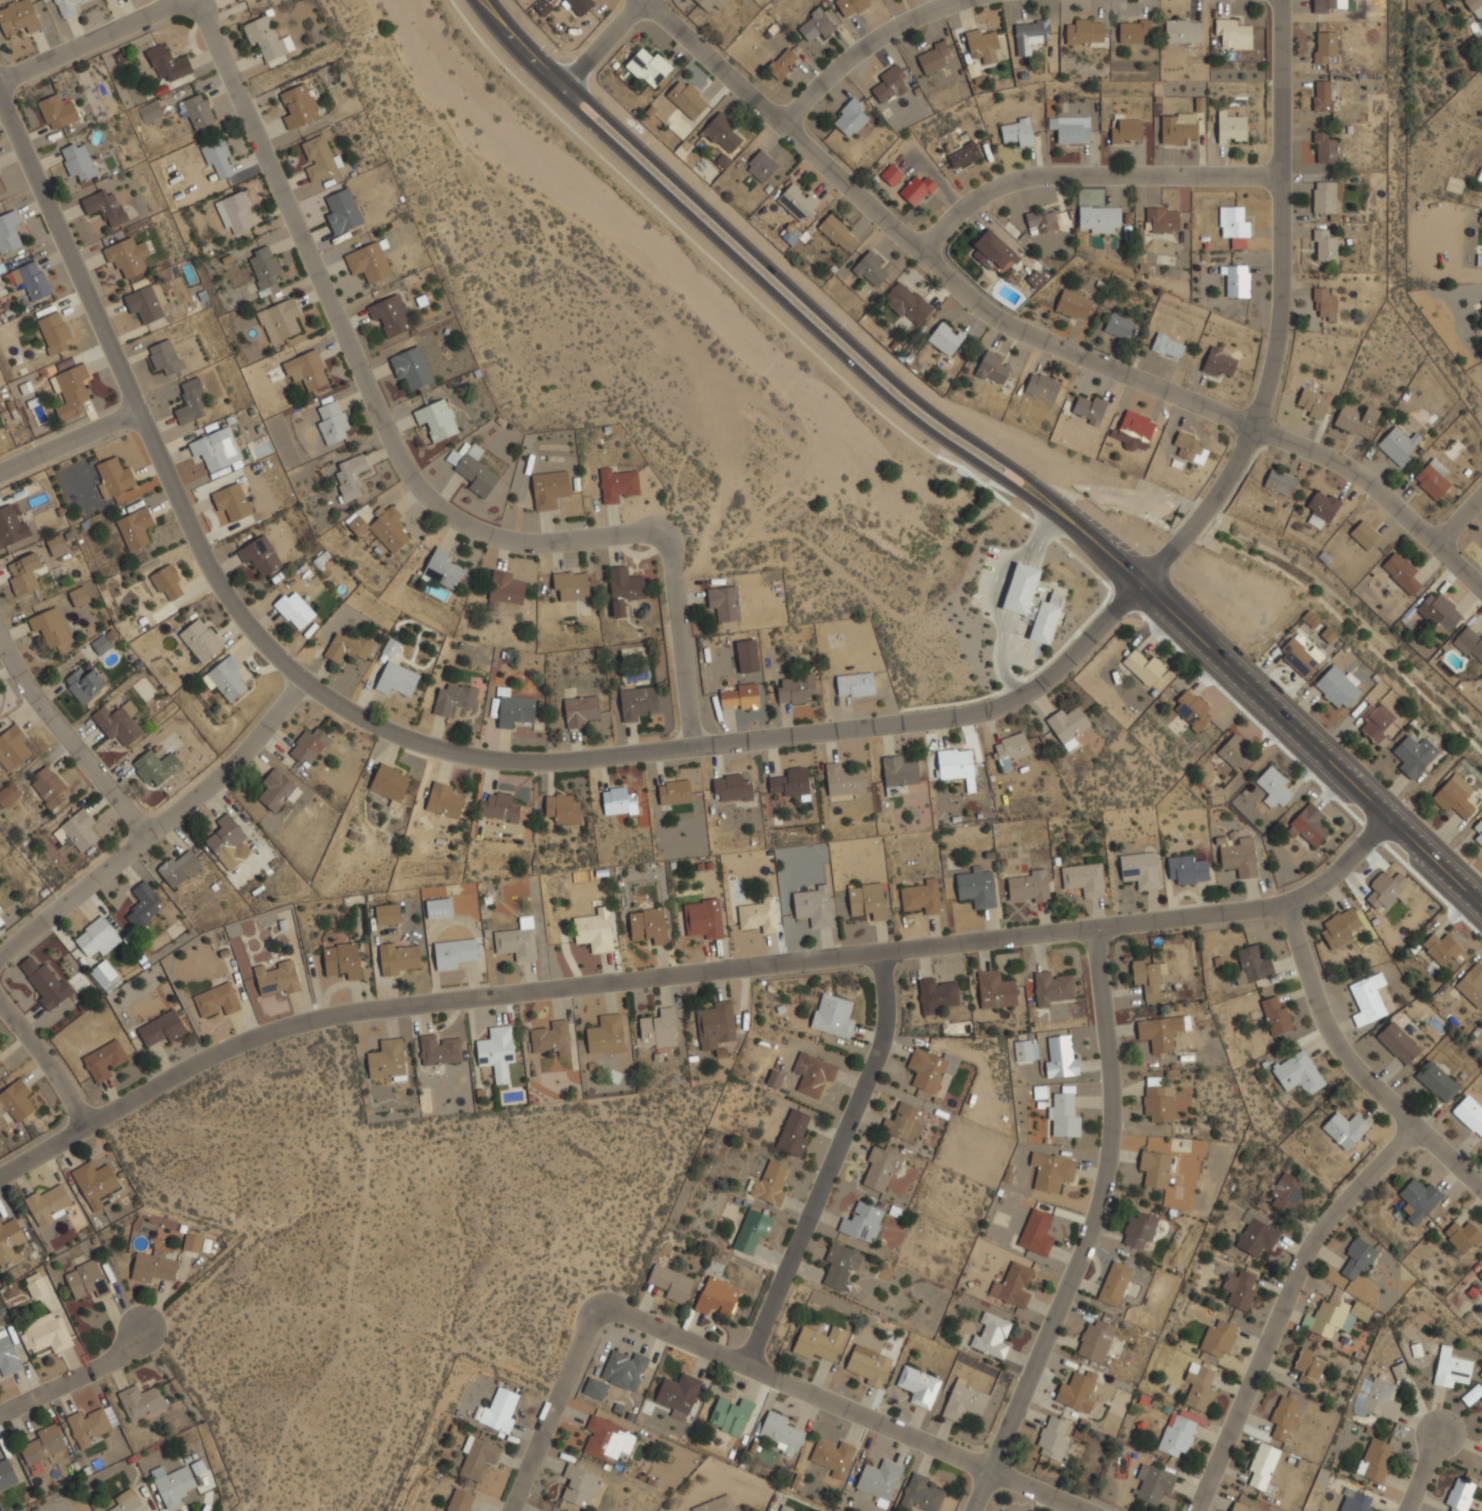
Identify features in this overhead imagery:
building: (237, 0)
building: (710, 4)
building: (577, 5)
building: (850, 6)
building: (1325, 6)
building: (68, 7)
building: (543, 7)
building: (1474, 7)
building: (18, 18)
building: (815, 24)
building: (1084, 31)
building: (1133, 31)
building: (1183, 31)
building: (1232, 33)
building: (1030, 34)
building: (266, 39)
road: (865, 45)
building: (982, 45)
building: (1324, 45)
road: (599, 47)
building: (931, 57)
building: (781, 63)
building: (167, 64)
building: (648, 67)
building: (890, 84)
building: (1322, 95)
building: (686, 99)
building: (298, 106)
building: (149, 110)
building: (195, 110)
building: (57, 111)
building: (850, 117)
building: (1176, 127)
building: (1070, 128)
building: (1231, 129)
building: (1017, 131)
building: (1127, 131)
building: (721, 133)
building: (1324, 148)
building: (963, 156)
building: (319, 158)
building: (218, 159)
building: (77, 161)
building: (761, 166)
building: (891, 175)
building: (1477, 175)
road: (1088, 176)
building: (1, 188)
building: (916, 190)
building: (1324, 197)
building: (796, 202)
building: (103, 205)
building: (235, 211)
building: (342, 212)
building: (1099, 219)
building: (1161, 219)
building: (1041, 220)
building: (1233, 221)
building: (8, 231)
building: (837, 233)
building: (1324, 246)
building: (993, 252)
building: (126, 256)
building: (1479, 261)
building: (368, 262)
building: (263, 268)
building: (870, 269)
building: (31, 279)
road: (781, 279)
building: (1034, 279)
building: (1236, 281)
road: (764, 286)
building: (1481, 301)
building: (145, 302)
building: (1481, 302)
building: (906, 303)
building: (1072, 304)
building: (1324, 304)
road: (1280, 312)
building: (391, 315)
building: (278, 319)
building: (1118, 325)
building: (53, 332)
road: (1034, 337)
building: (945, 339)
building: (1167, 347)
building: (164, 356)
building: (1219, 362)
road: (359, 366)
building: (411, 368)
building: (991, 368)
building: (306, 370)
building: (1042, 387)
building: (70, 391)
building: (190, 401)
building: (1312, 401)
building: (1090, 409)
building: (436, 420)
building: (1356, 420)
building: (331, 421)
building: (1134, 430)
road: (68, 440)
building: (1399, 445)
building: (1189, 448)
building: (216, 449)
building: (472, 469)
building: (350, 475)
building: (113, 476)
building: (1432, 479)
building: (1279, 482)
building: (617, 485)
building: (549, 489)
building: (230, 501)
building: (1321, 509)
road: (1458, 517)
building: (11, 526)
building: (135, 528)
building: (382, 528)
building: (1364, 535)
building: (55, 545)
building: (259, 554)
road: (1114, 560)
building: (442, 568)
building: (23, 573)
building: (1401, 573)
building: (168, 583)
building: (570, 585)
building: (623, 588)
building: (503, 589)
building: (78, 596)
building: (1030, 602)
building: (724, 603)
building: (293, 609)
building: (1438, 612)
building: (49, 626)
building: (200, 639)
building: (104, 641)
building: (1469, 643)
building: (347, 646)
building: (390, 647)
building: (1301, 654)
building: (747, 656)
building: (1143, 667)
building: (226, 677)
building: (396, 680)
building: (84, 684)
building: (855, 685)
building: (1336, 687)
building: (795, 688)
building: (741, 697)
building: (453, 699)
building: (636, 702)
building: (512, 708)
building: (579, 710)
building: (1191, 710)
building: (1376, 722)
building: (117, 723)
building: (1067, 726)
road: (408, 738)
road: (68, 739)
building: (12, 745)
building: (309, 746)
road: (1310, 746)
building: (1011, 750)
building: (1235, 753)
building: (1414, 756)
building: (155, 765)
building: (956, 766)
building: (898, 774)
building: (843, 780)
building: (790, 782)
building: (389, 785)
building: (1273, 787)
building: (48, 788)
building: (733, 788)
building: (278, 790)
building: (674, 792)
building: (8, 794)
building: (1454, 796)
building: (443, 801)
building: (618, 801)
building: (498, 807)
building: (562, 809)
road: (159, 824)
building: (1308, 826)
building: (77, 830)
building: (1478, 832)
building: (227, 842)
building: (1239, 858)
building: (179, 869)
building: (1140, 870)
building: (1187, 870)
building: (1083, 879)
building: (1029, 887)
building: (976, 888)
building: (1385, 890)
building: (921, 897)
building: (867, 901)
building: (143, 905)
building: (813, 906)
building: (0, 908)
building: (439, 908)
building: (386, 914)
building: (759, 916)
building: (703, 919)
building: (0, 922)
building: (648, 926)
building: (1339, 927)
building: (594, 931)
building: (96, 938)
building: (517, 941)
building: (235, 946)
building: (1441, 948)
building: (454, 953)
building: (398, 959)
building: (342, 960)
building: (1252, 965)
road: (690, 973)
building: (105, 976)
building: (277, 978)
building: (1150, 980)
building: (45, 983)
building: (1472, 985)
building: (1052, 988)
building: (995, 990)
building: (936, 995)
building: (1367, 998)
building: (216, 1001)
building: (833, 1015)
building: (1275, 1016)
building: (714, 1024)
building: (161, 1028)
building: (658, 1029)
building: (1161, 1032)
building: (605, 1035)
building: (551, 1038)
building: (1398, 1043)
building: (439, 1050)
building: (1025, 1051)
building: (496, 1052)
building: (1060, 1058)
building: (1, 1060)
road: (47, 1060)
building: (104, 1060)
building: (387, 1060)
road: (1355, 1066)
building: (926, 1070)
building: (1298, 1073)
building: (813, 1074)
building: (774, 1079)
building: (1436, 1082)
building: (1039, 1092)
building: (15, 1100)
building: (1157, 1100)
building: (1064, 1114)
building: (1469, 1114)
building: (904, 1123)
building: (1345, 1129)
building: (793, 1133)
road: (830, 1163)
building: (880, 1168)
building: (1154, 1169)
building: (1051, 1172)
building: (95, 1183)
building: (771, 1183)
building: (1287, 1193)
building: (1419, 1199)
building: (48, 1205)
building: (862, 1222)
road: (1090, 1229)
building: (1139, 1229)
building: (751, 1231)
building: (1036, 1233)
building: (1462, 1236)
building: (1257, 1237)
building: (10, 1242)
building: (192, 1243)
building: (1358, 1258)
building: (153, 1267)
building: (840, 1267)
building: (1480, 1273)
building: (86, 1280)
building: (671, 1283)
building: (1114, 1283)
building: (36, 1285)
building: (1013, 1286)
building: (1239, 1290)
building: (716, 1297)
road: (1283, 1304)
building: (1337, 1316)
building: (45, 1333)
building: (991, 1336)
building: (1218, 1338)
building: (1095, 1341)
building: (819, 1343)
building: (8, 1355)
road: (741, 1365)
building: (869, 1367)
building: (1308, 1367)
building: (1451, 1368)
building: (624, 1370)
building: (1399, 1371)
building: (1481, 1374)
road: (74, 1377)
building: (918, 1386)
building: (1198, 1386)
building: (595, 1389)
building: (1076, 1392)
building: (678, 1395)
building: (1471, 1395)
building: (1380, 1399)
building: (140, 1401)
building: (964, 1403)
building: (498, 1411)
building: (730, 1415)
building: (1283, 1417)
building: (1179, 1432)
building: (781, 1433)
building: (1053, 1438)
building: (608, 1440)
building: (41, 1447)
building: (832, 1457)
building: (477, 1458)
building: (1375, 1460)
building: (198, 1467)
building: (1263, 1467)
road: (1422, 1473)
building: (6, 1474)
building: (879, 1479)
building: (203, 1482)
building: (1153, 1484)
building: (172, 1485)
building: (579, 1486)
building: (921, 1494)
building: (1459, 1495)
building: (459, 1501)
building: (127, 1502)
building: (715, 1504)
building: (1242, 1507)
building: (785, 1508)
building: (1001, 1510)
building: (1002, 1510)

